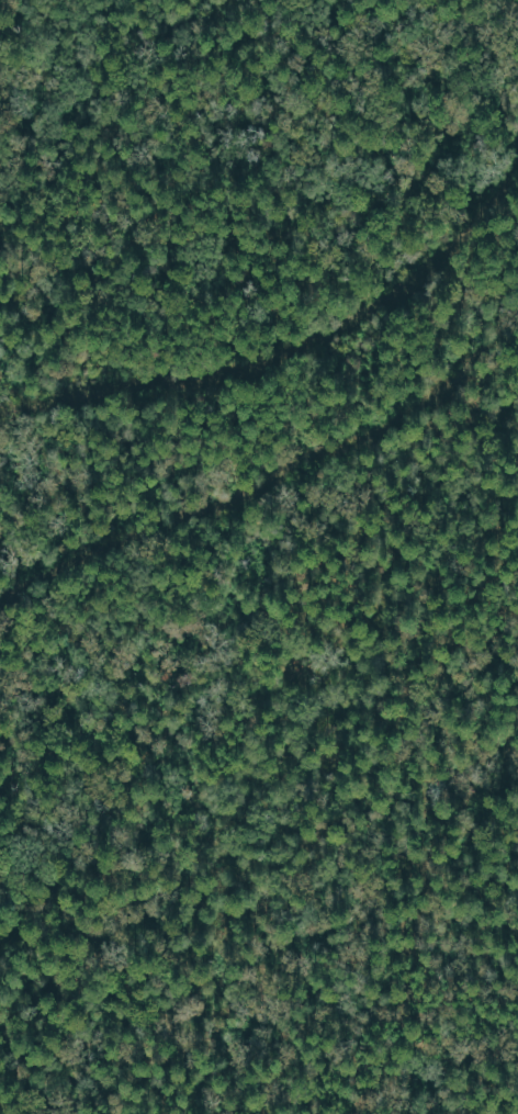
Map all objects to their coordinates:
road: (0, 1113)

